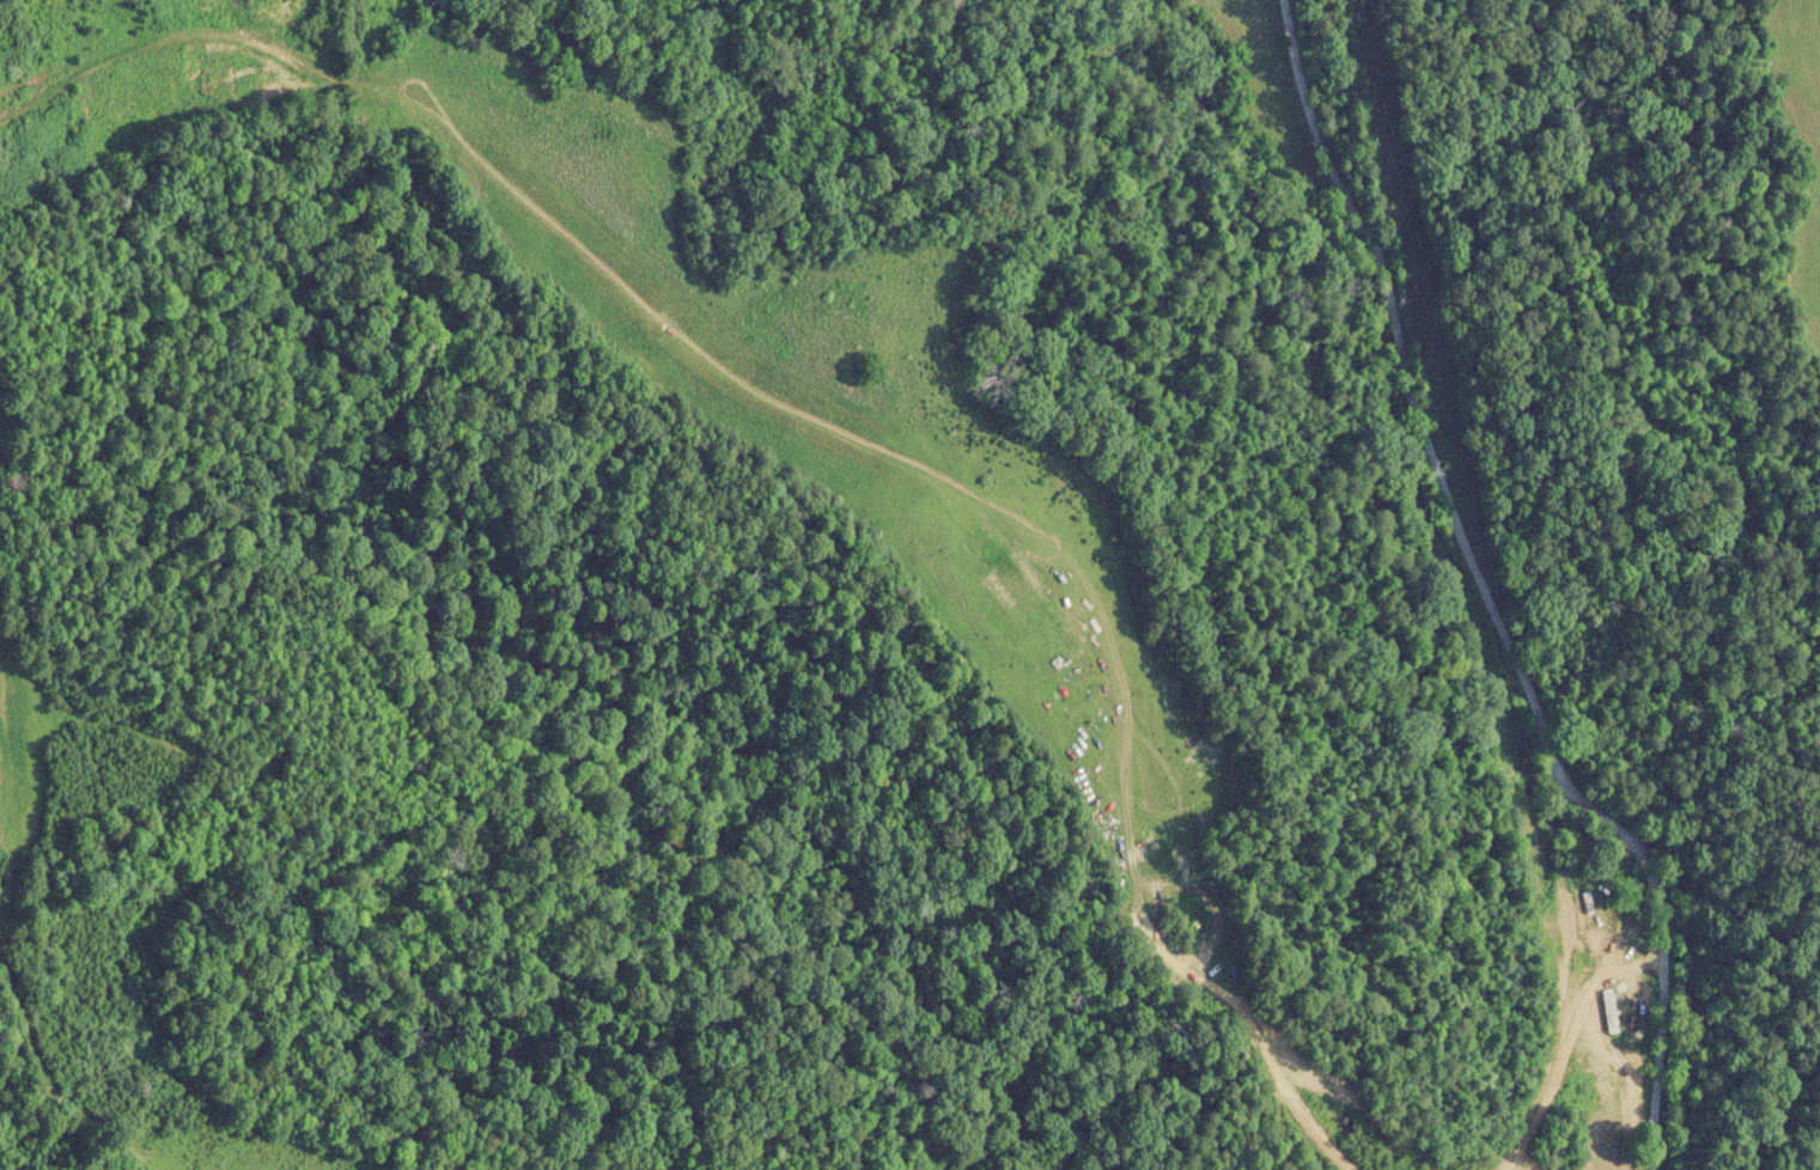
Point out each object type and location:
road: (1493, 584)

